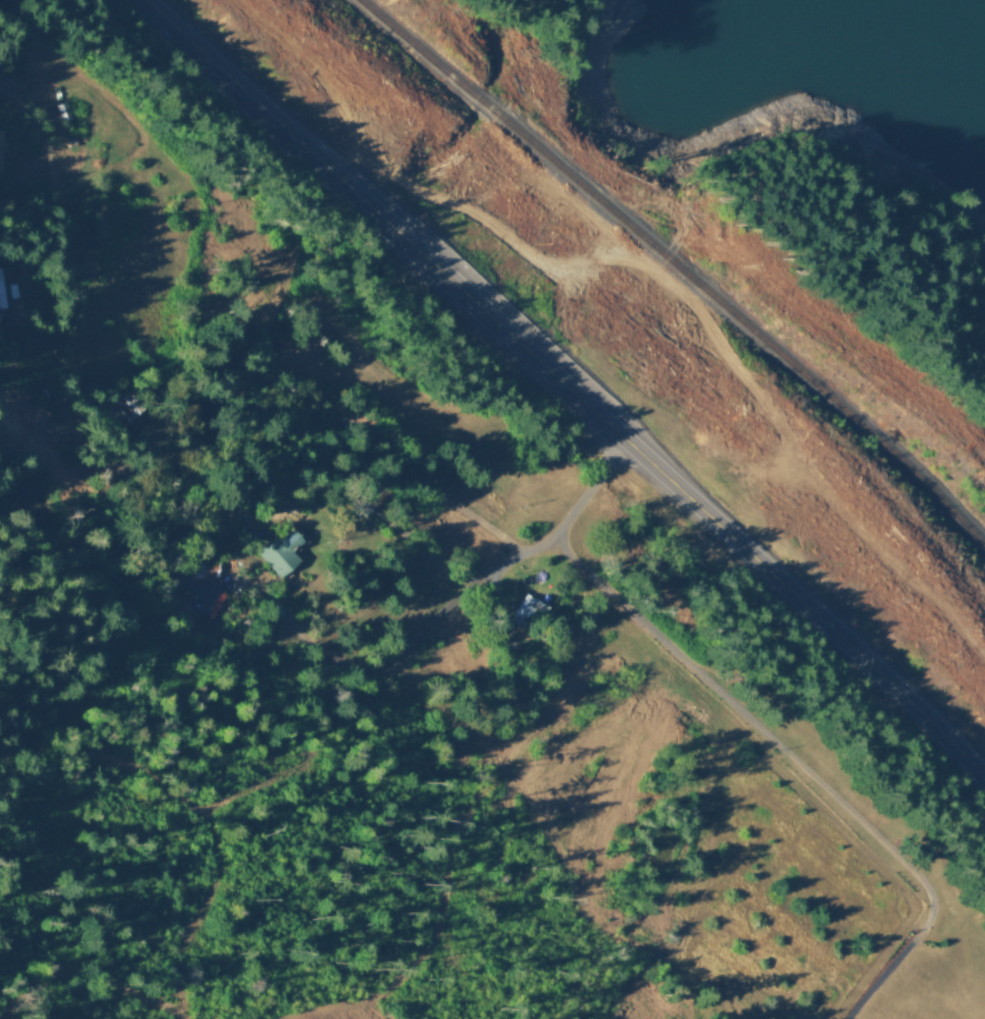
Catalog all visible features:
railway: (680, 267)
road: (565, 386)
road: (174, 483)
building: (280, 550)
building: (205, 567)
building: (526, 609)

